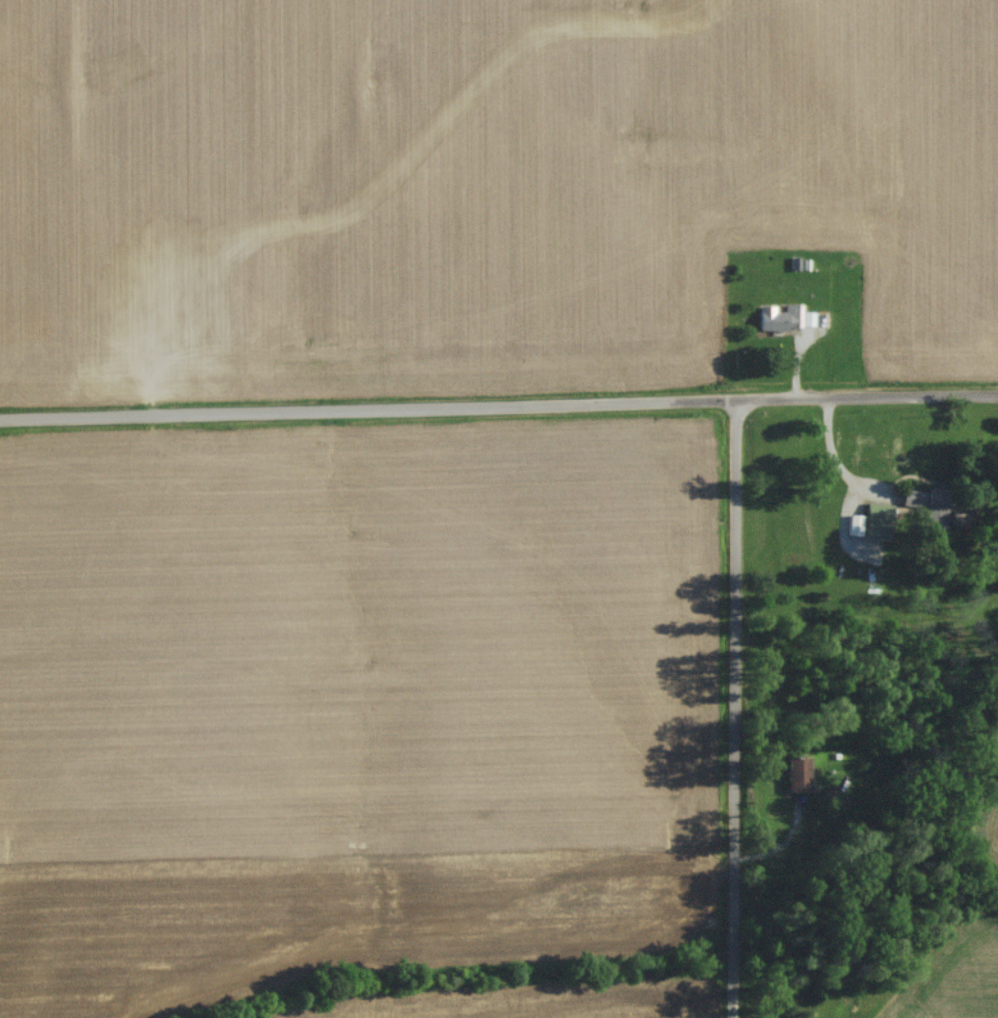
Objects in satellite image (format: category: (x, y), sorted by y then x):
building: (776, 322)
road: (499, 406)
road: (839, 456)
building: (924, 509)
road: (735, 709)
building: (792, 778)

